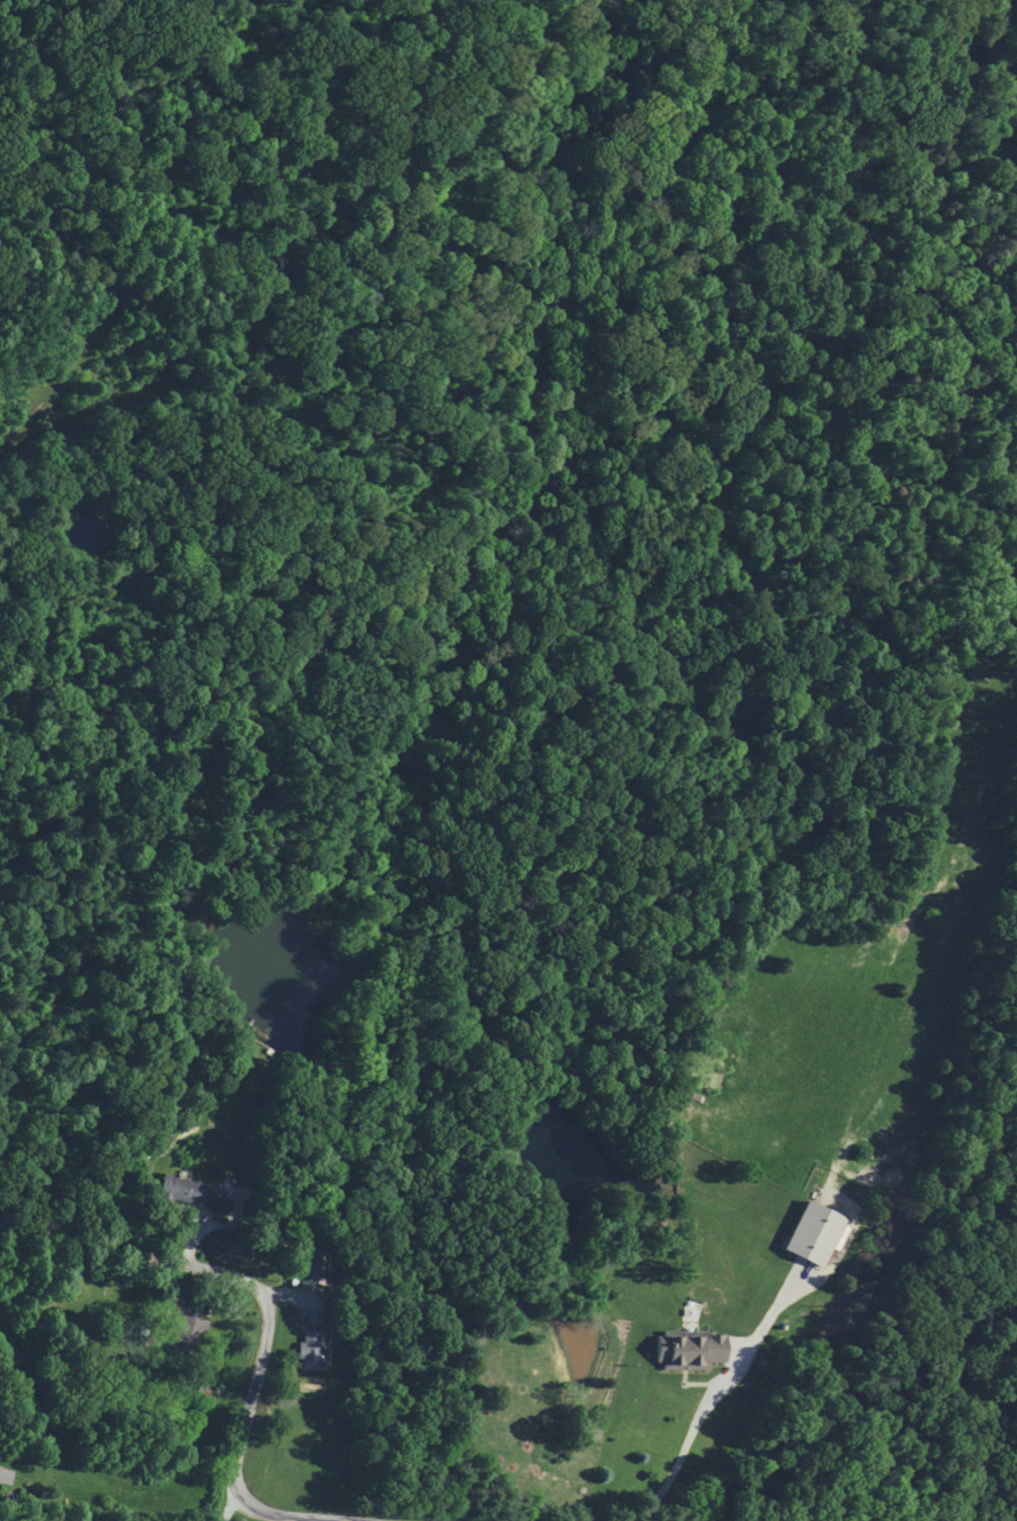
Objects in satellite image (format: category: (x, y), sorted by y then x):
building: (188, 1192)
building: (811, 1231)
building: (312, 1265)
building: (187, 1329)
building: (686, 1348)
building: (309, 1349)
road: (255, 1373)
road: (677, 1463)
building: (4, 1475)
road: (227, 1499)
road: (294, 1512)
road: (19, 1519)

